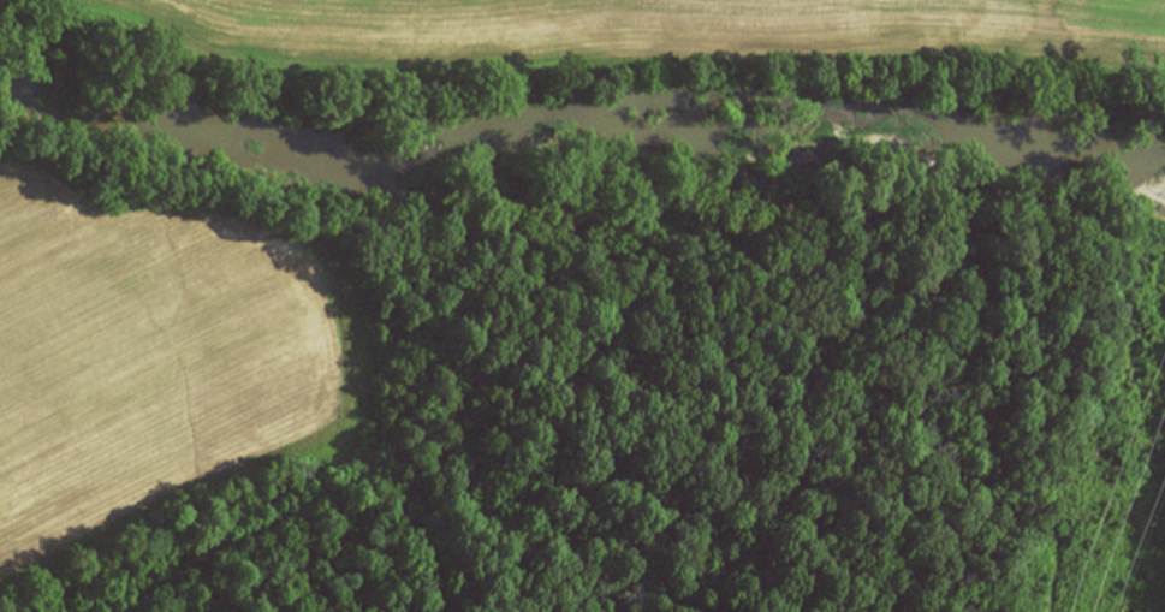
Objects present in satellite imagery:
river: (586, 150)

